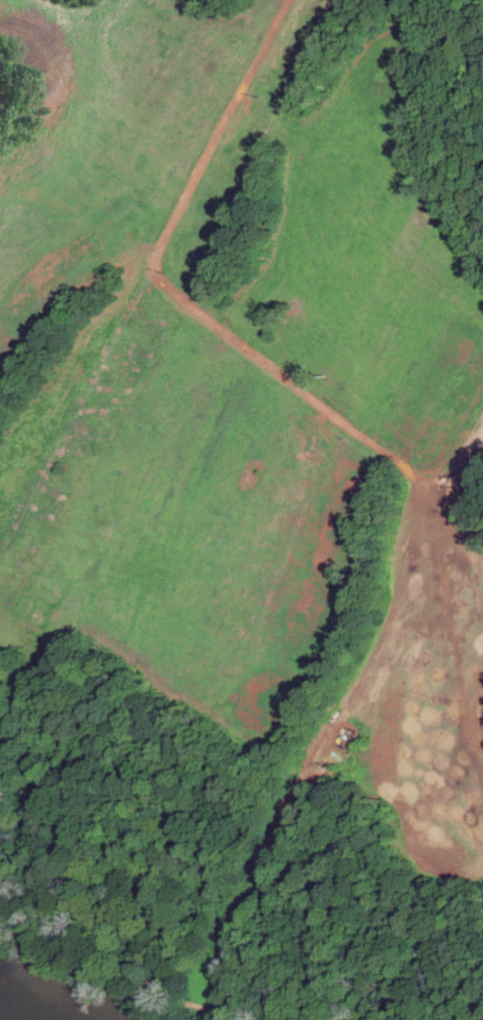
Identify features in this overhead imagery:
road: (133, 963)
river: (10, 1010)

